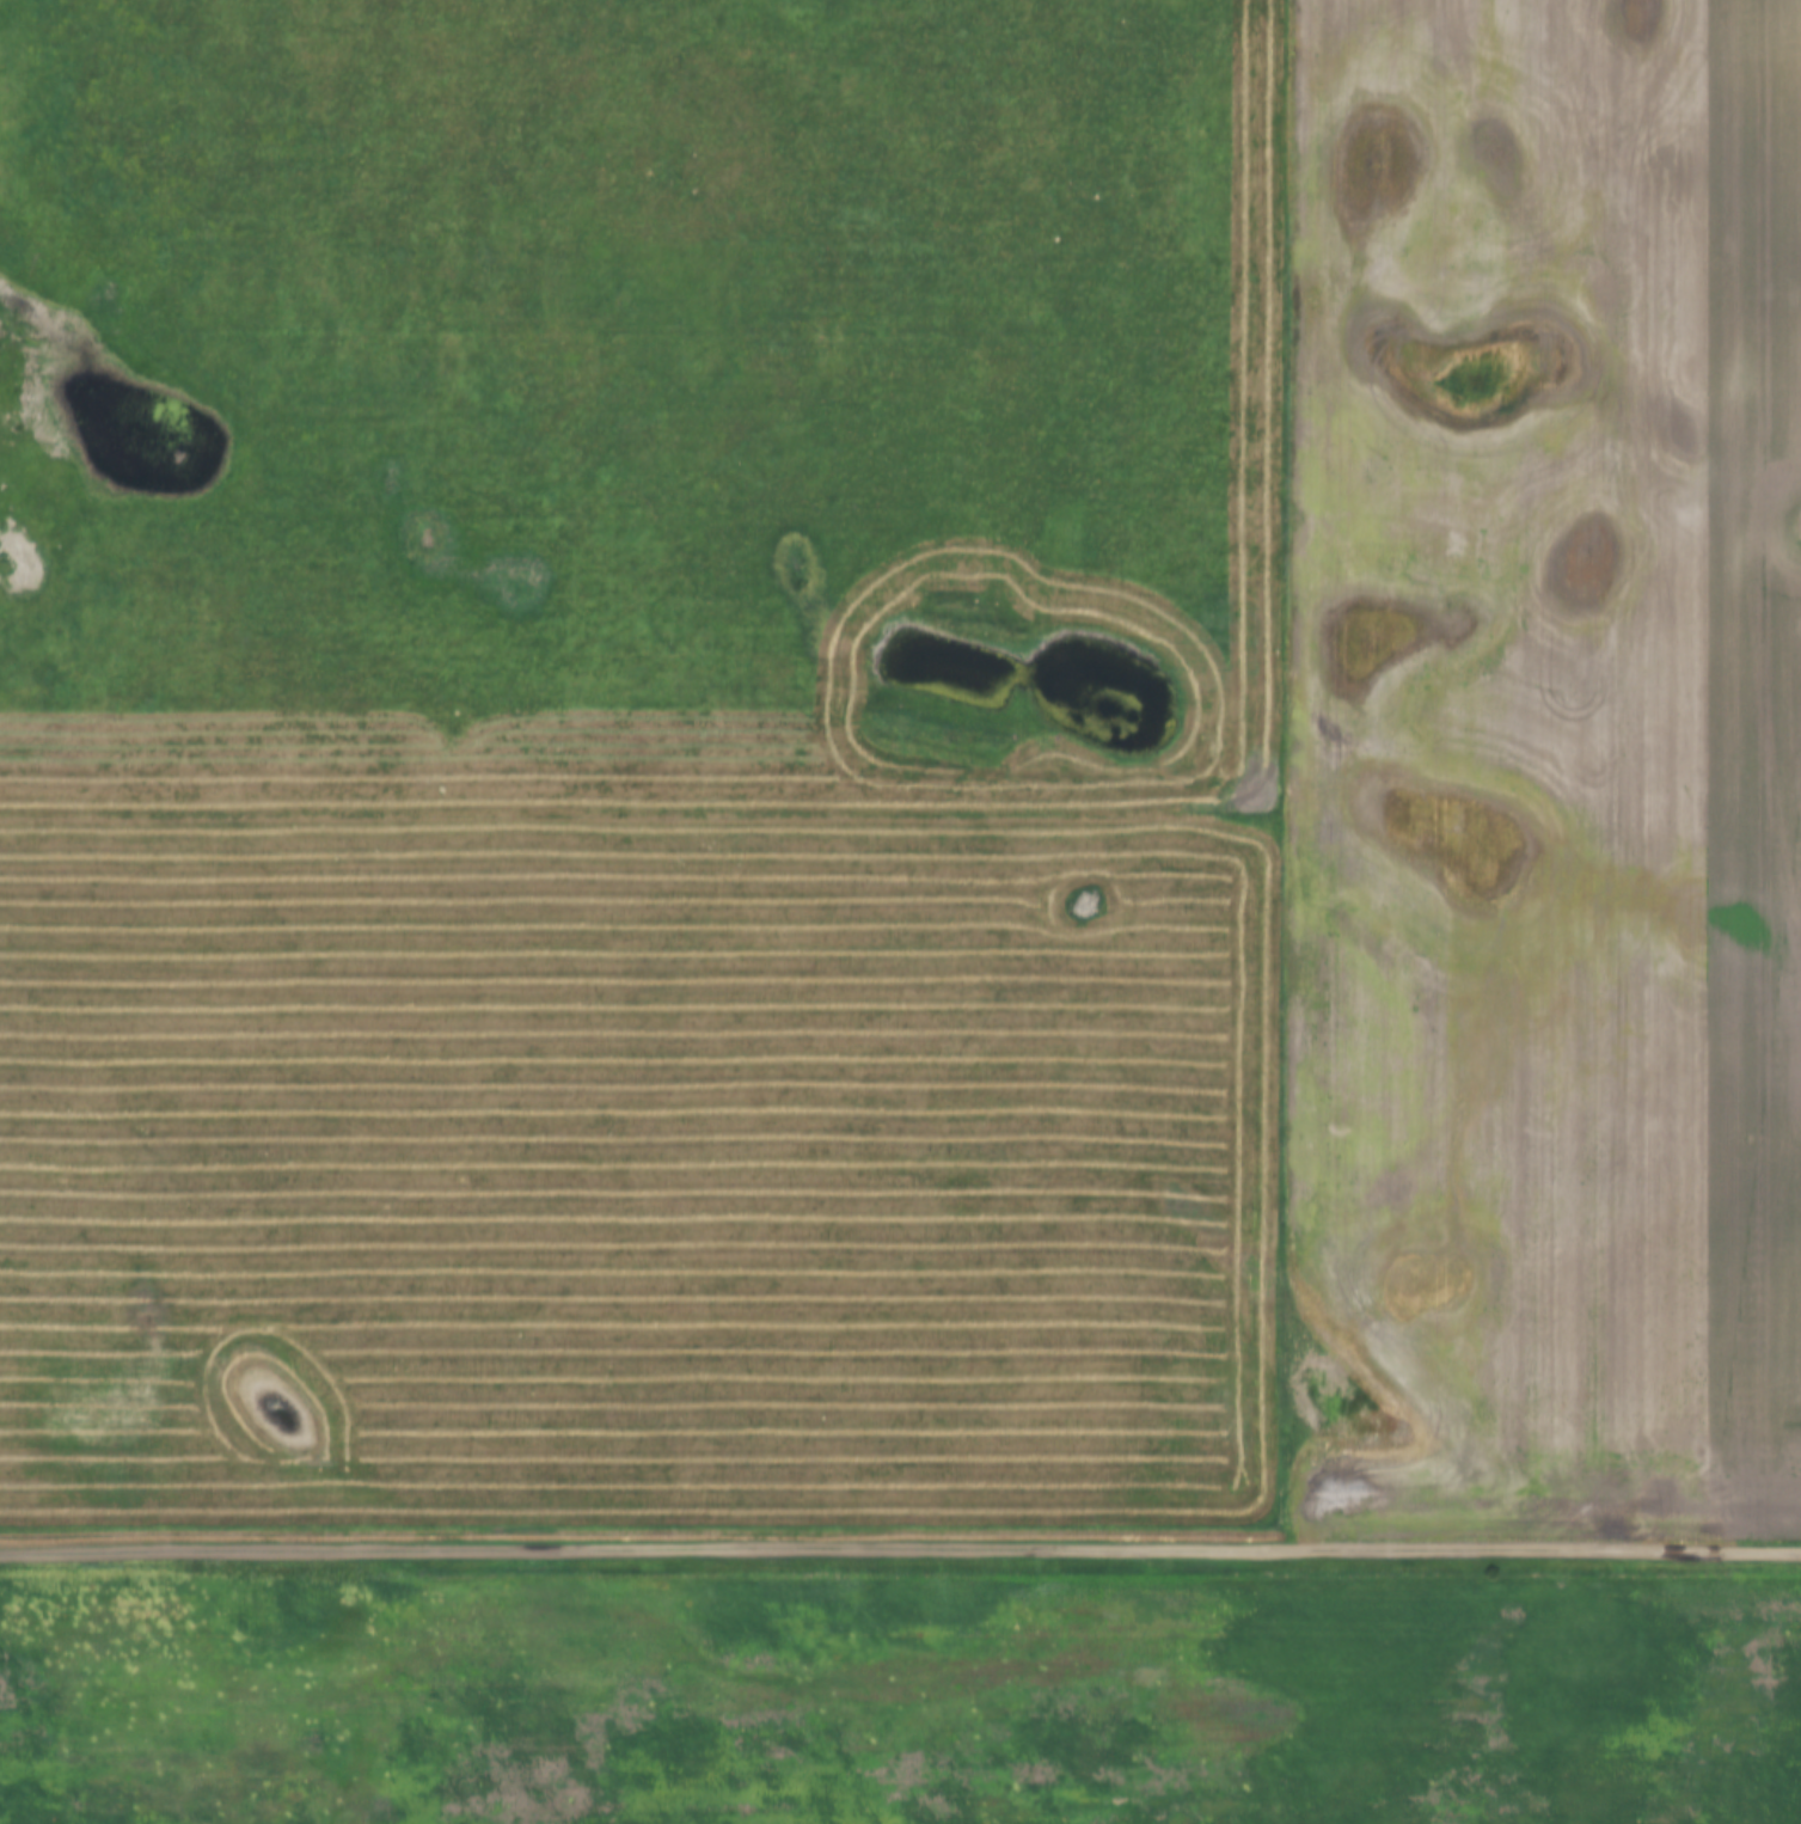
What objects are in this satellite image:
road: (900, 1553)

